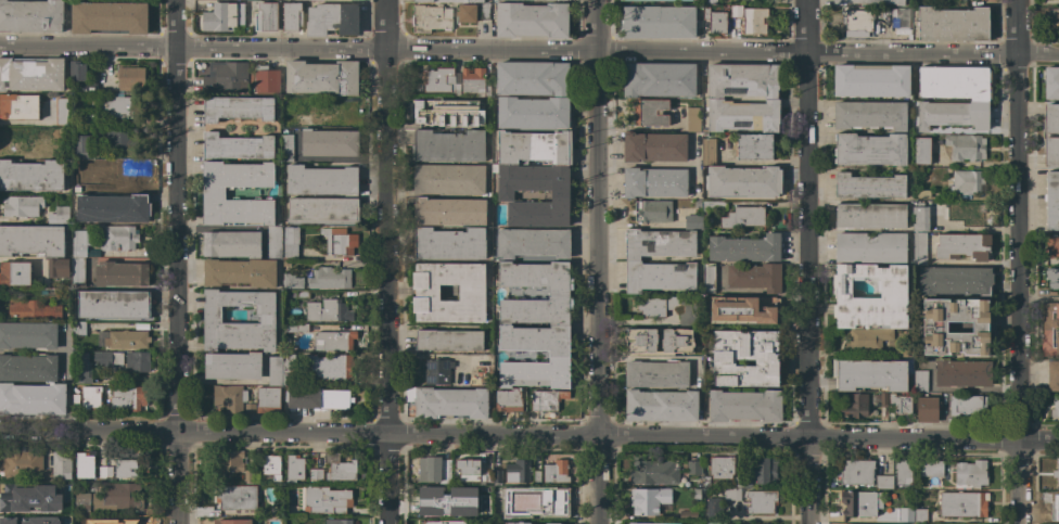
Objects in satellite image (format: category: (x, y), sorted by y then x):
building: (564, 0)
building: (647, 0)
building: (870, 1)
building: (709, 2)
building: (467, 13)
building: (484, 13)
building: (30, 15)
building: (291, 15)
building: (109, 16)
building: (266, 16)
building: (220, 17)
building: (431, 17)
building: (904, 17)
building: (750, 18)
building: (332, 20)
building: (531, 20)
building: (715, 20)
building: (659, 22)
building: (858, 23)
building: (950, 23)
building: (1054, 23)
road: (175, 25)
road: (88, 48)
road: (719, 49)
road: (279, 50)
building: (77, 71)
building: (30, 74)
building: (131, 77)
building: (226, 77)
building: (321, 77)
building: (531, 78)
building: (266, 79)
building: (658, 79)
building: (439, 80)
building: (871, 80)
building: (474, 81)
building: (1050, 82)
building: (111, 86)
building: (87, 87)
building: (714, 97)
building: (953, 97)
building: (293, 104)
building: (18, 106)
building: (114, 106)
building: (237, 107)
building: (333, 110)
building: (62, 111)
building: (532, 112)
building: (650, 112)
building: (449, 113)
building: (869, 115)
building: (86, 118)
building: (691, 118)
building: (1045, 135)
building: (20, 140)
building: (59, 140)
building: (118, 140)
building: (328, 142)
building: (448, 145)
building: (81, 146)
building: (237, 146)
building: (653, 146)
building: (753, 146)
building: (285, 148)
building: (965, 148)
building: (869, 149)
building: (921, 151)
building: (31, 176)
building: (119, 176)
building: (534, 176)
building: (79, 177)
building: (737, 177)
building: (448, 179)
building: (321, 180)
building: (966, 181)
building: (653, 182)
building: (868, 186)
building: (213, 193)
building: (1051, 200)
building: (22, 206)
building: (112, 208)
building: (322, 210)
building: (652, 210)
building: (448, 212)
building: (966, 213)
building: (61, 214)
building: (701, 214)
building: (870, 216)
building: (743, 217)
building: (919, 217)
building: (117, 238)
building: (31, 241)
road: (177, 241)
building: (339, 241)
building: (82, 243)
building: (449, 243)
building: (533, 243)
building: (231, 244)
building: (1054, 245)
building: (962, 246)
building: (744, 247)
building: (869, 247)
building: (919, 248)
building: (273, 251)
road: (383, 261)
road: (597, 261)
building: (633, 261)
road: (806, 261)
road: (1018, 261)
building: (58, 267)
building: (76, 271)
building: (240, 272)
building: (14, 273)
building: (120, 274)
building: (754, 277)
building: (1052, 277)
building: (329, 278)
building: (707, 278)
building: (954, 280)
building: (291, 281)
building: (48, 293)
building: (471, 293)
building: (893, 294)
building: (113, 304)
building: (671, 308)
building: (33, 310)
building: (328, 310)
building: (741, 310)
building: (212, 319)
building: (559, 324)
building: (934, 327)
building: (78, 328)
building: (299, 328)
building: (1049, 329)
building: (28, 335)
building: (868, 338)
building: (126, 340)
building: (448, 340)
building: (639, 340)
building: (334, 341)
building: (676, 341)
building: (106, 358)
building: (745, 358)
building: (137, 361)
building: (232, 366)
building: (28, 367)
building: (81, 368)
building: (329, 368)
building: (288, 369)
building: (275, 370)
building: (436, 371)
building: (961, 372)
building: (656, 373)
building: (869, 374)
building: (1052, 375)
building: (920, 381)
building: (461, 383)
building: (90, 397)
building: (128, 397)
building: (229, 397)
building: (318, 398)
building: (883, 398)
building: (33, 399)
building: (75, 399)
building: (267, 399)
building: (546, 399)
building: (508, 401)
building: (450, 402)
building: (661, 405)
building: (854, 405)
building: (967, 405)
building: (743, 406)
building: (898, 406)
building: (928, 407)
building: (1055, 407)
building: (248, 409)
road: (528, 436)
building: (61, 464)
building: (84, 464)
building: (230, 464)
building: (23, 465)
building: (271, 467)
building: (693, 467)
building: (720, 467)
building: (294, 468)
building: (339, 468)
building: (126, 469)
building: (924, 469)
building: (434, 470)
building: (1056, 471)
building: (105, 472)
building: (472, 472)
building: (520, 472)
building: (558, 472)
building: (653, 472)
building: (855, 472)
building: (903, 472)
building: (758, 473)
building: (970, 474)
building: (256, 475)
building: (312, 475)
building: (319, 475)
building: (497, 476)
road: (177, 478)
building: (706, 482)
building: (883, 482)
building: (61, 487)
building: (697, 494)
building: (118, 497)
building: (237, 497)
building: (22, 499)
building: (433, 499)
building: (753, 499)
building: (326, 500)
building: (541, 500)
building: (650, 500)
building: (80, 503)
building: (857, 503)
building: (962, 504)
building: (482, 507)
building: (1055, 507)
building: (713, 508)
building: (499, 509)
building: (688, 515)
building: (905, 515)
building: (920, 515)
building: (16, 521)
building: (80, 521)
building: (116, 521)
building: (334, 521)
building: (234, 522)
building: (444, 522)
building: (547, 522)
building: (647, 523)
building: (718, 523)

